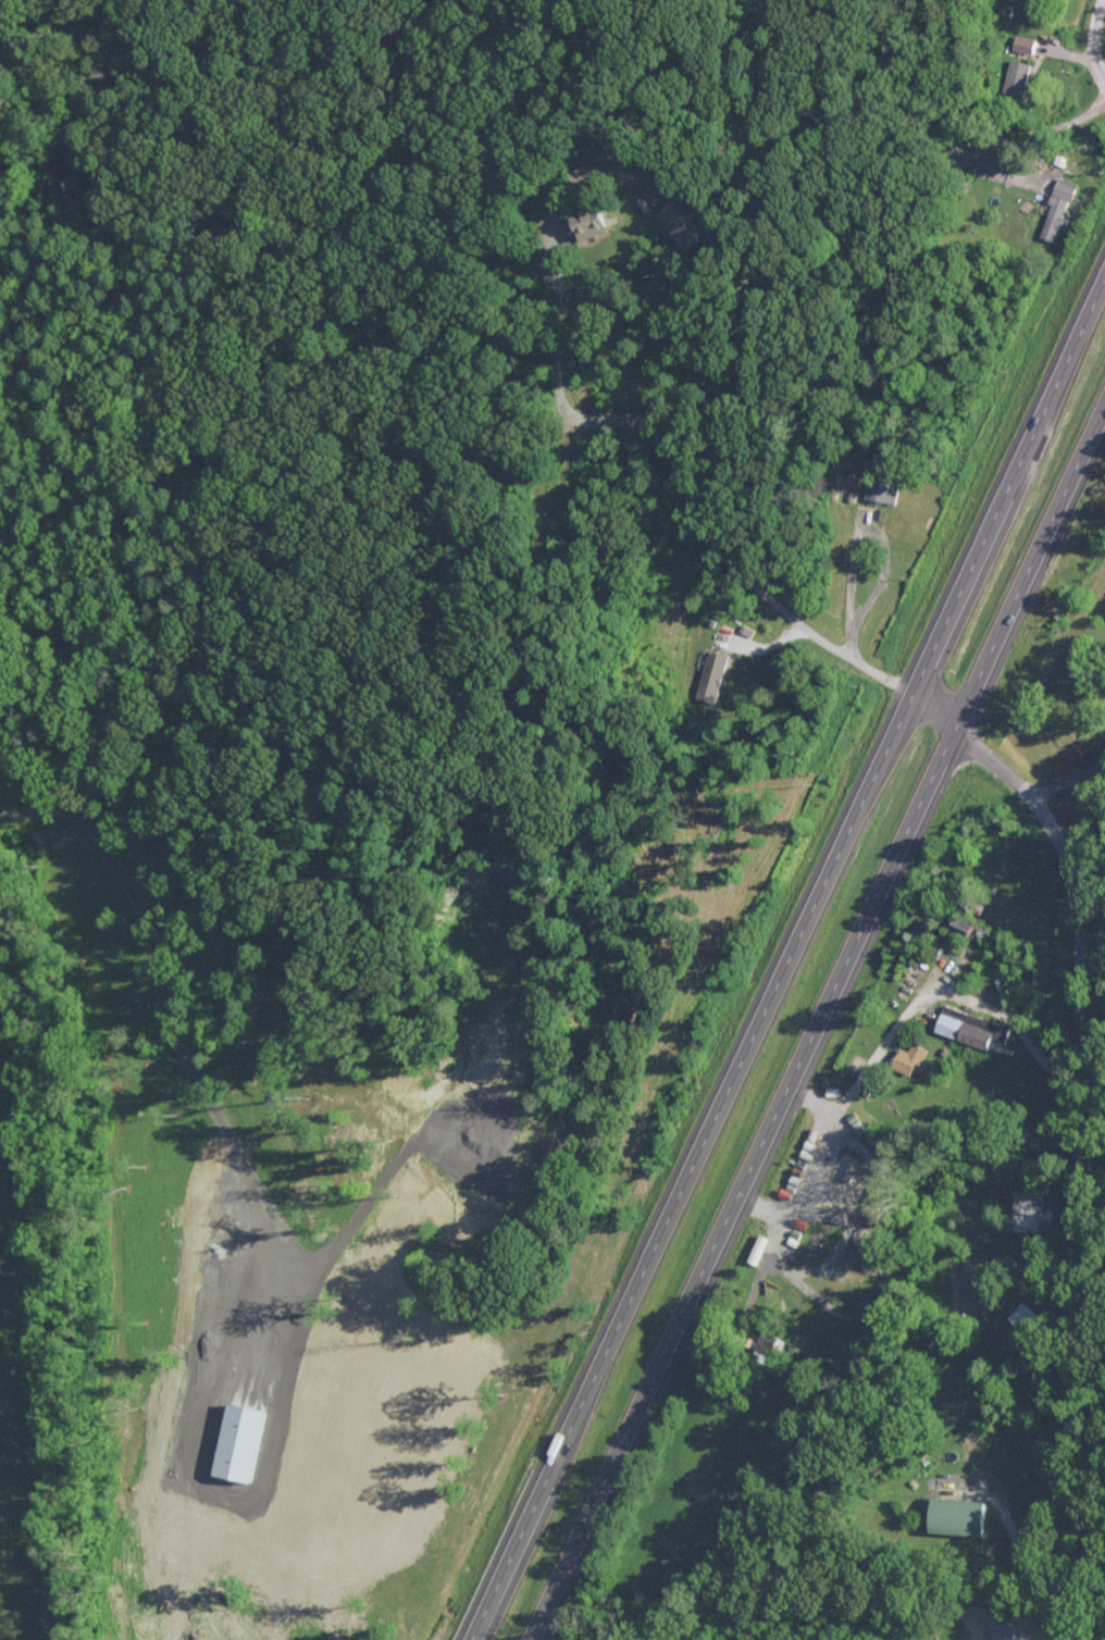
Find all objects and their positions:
road: (1090, 44)
building: (1016, 76)
road: (1006, 136)
building: (1057, 208)
building: (594, 221)
building: (686, 224)
road: (679, 473)
road: (1006, 482)
building: (882, 490)
road: (1028, 564)
road: (843, 585)
building: (712, 675)
road: (1071, 772)
building: (971, 1027)
road: (879, 1039)
building: (910, 1057)
road: (1077, 1132)
road: (679, 1163)
road: (736, 1183)
building: (1031, 1210)
road: (1023, 1278)
building: (866, 1309)
building: (1021, 1316)
building: (963, 1515)
road: (1017, 1560)

